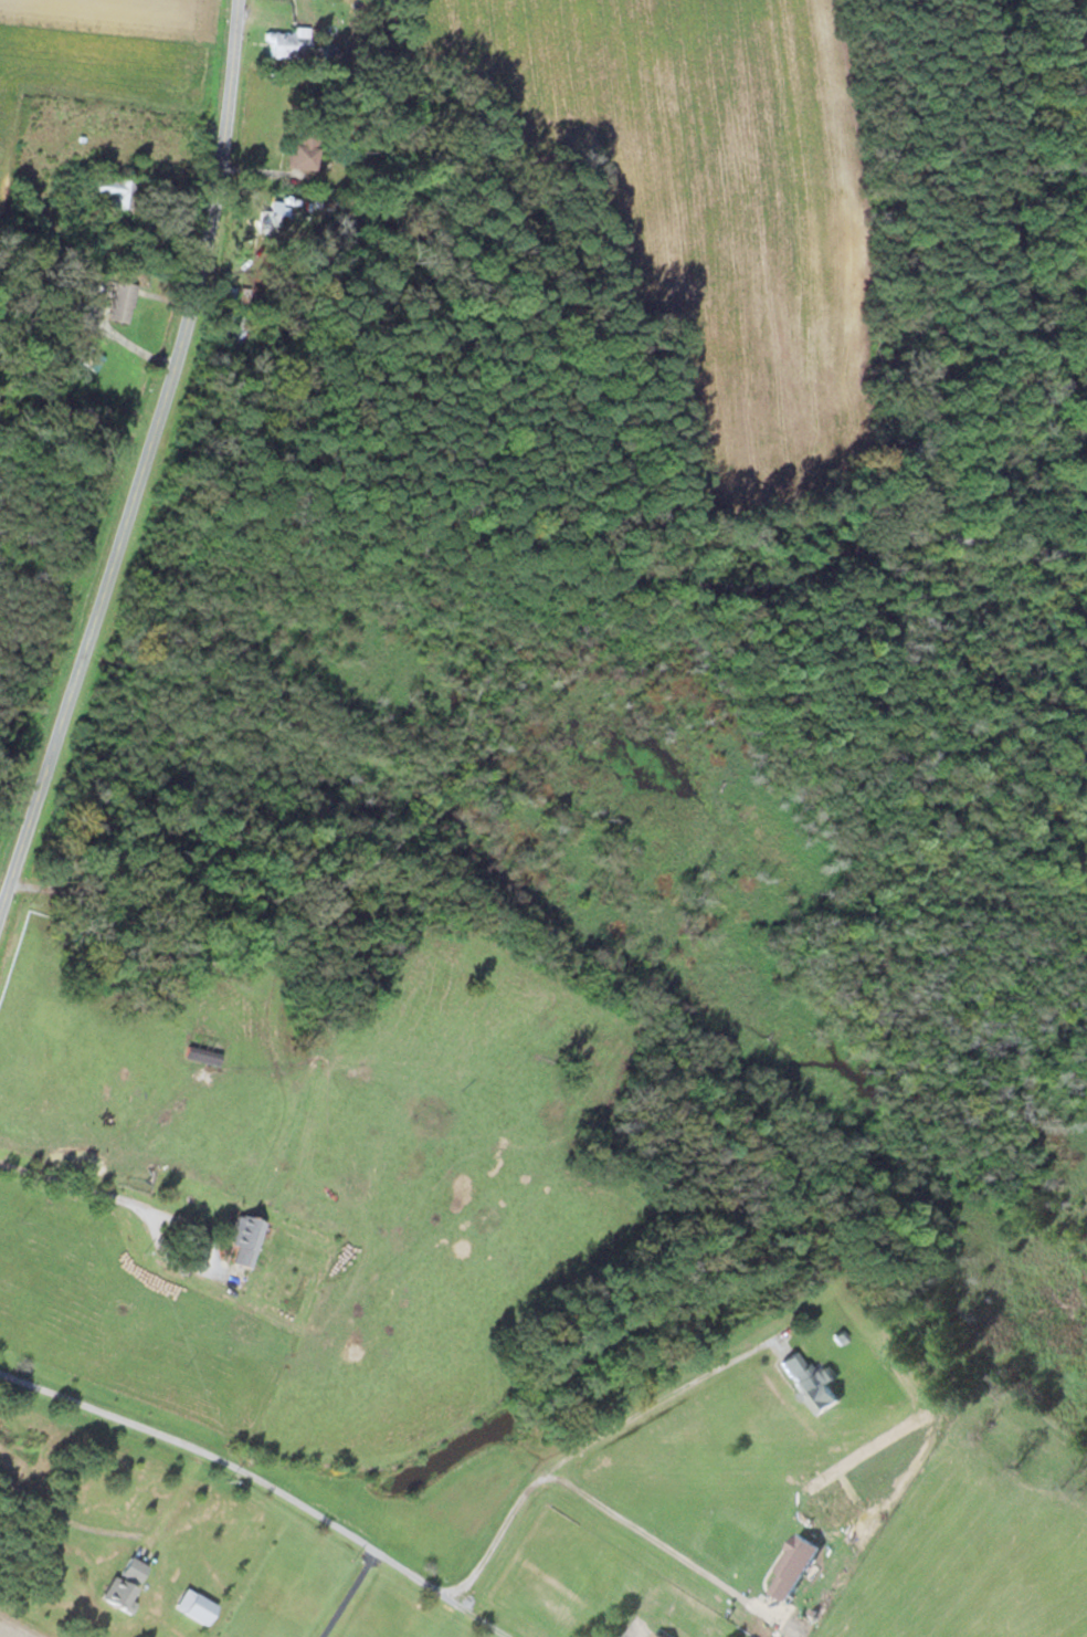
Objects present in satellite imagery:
building: (287, 45)
building: (300, 159)
building: (113, 192)
building: (270, 220)
building: (119, 304)
building: (221, 326)
building: (242, 336)
road: (141, 471)
building: (203, 1057)
building: (244, 1239)
building: (810, 1384)
road: (588, 1444)
road: (263, 1484)
building: (791, 1567)
building: (133, 1572)
building: (119, 1596)
building: (655, 1635)

